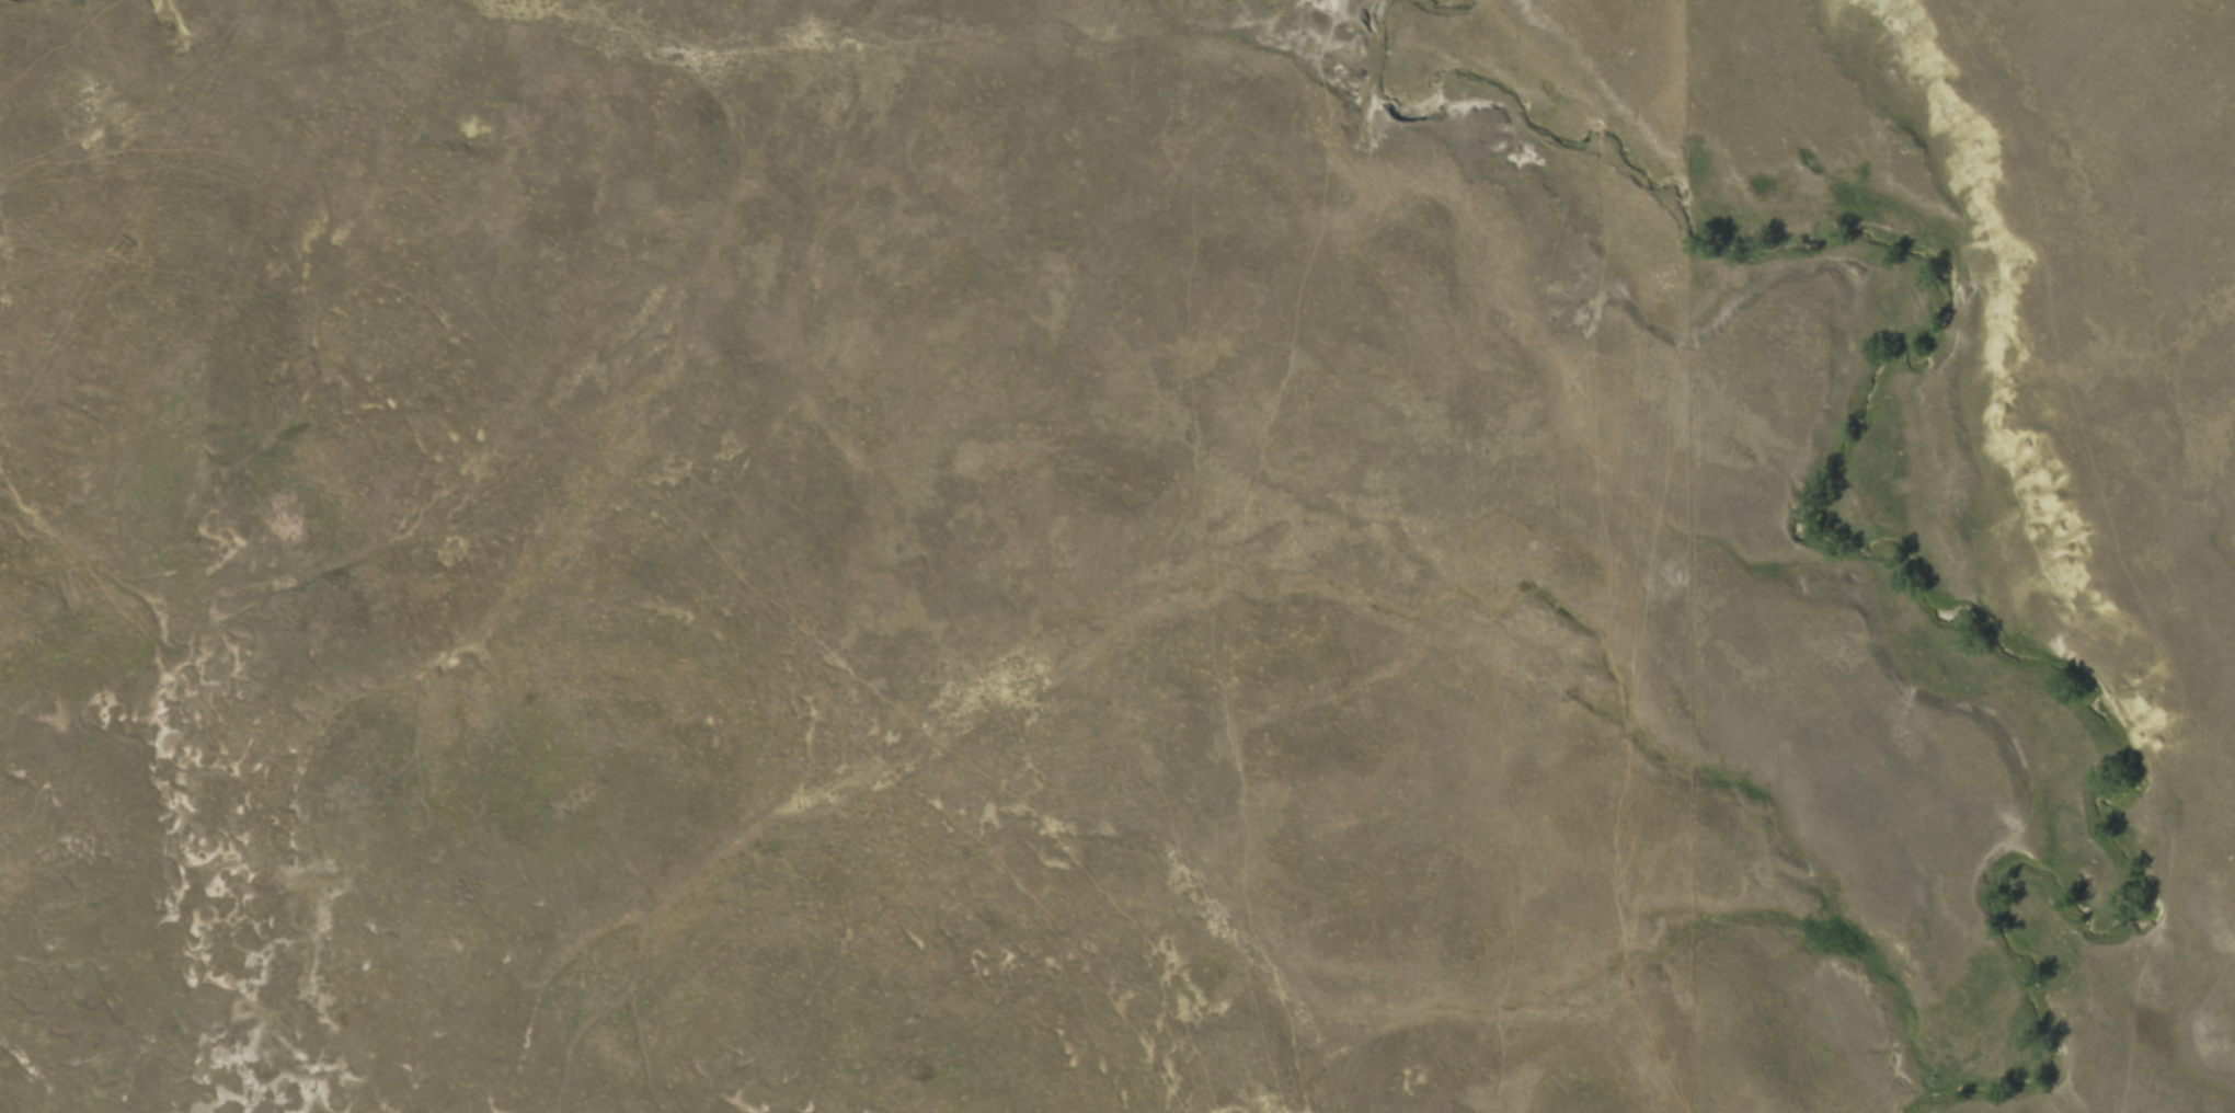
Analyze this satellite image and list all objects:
power tower: (112, 254)

